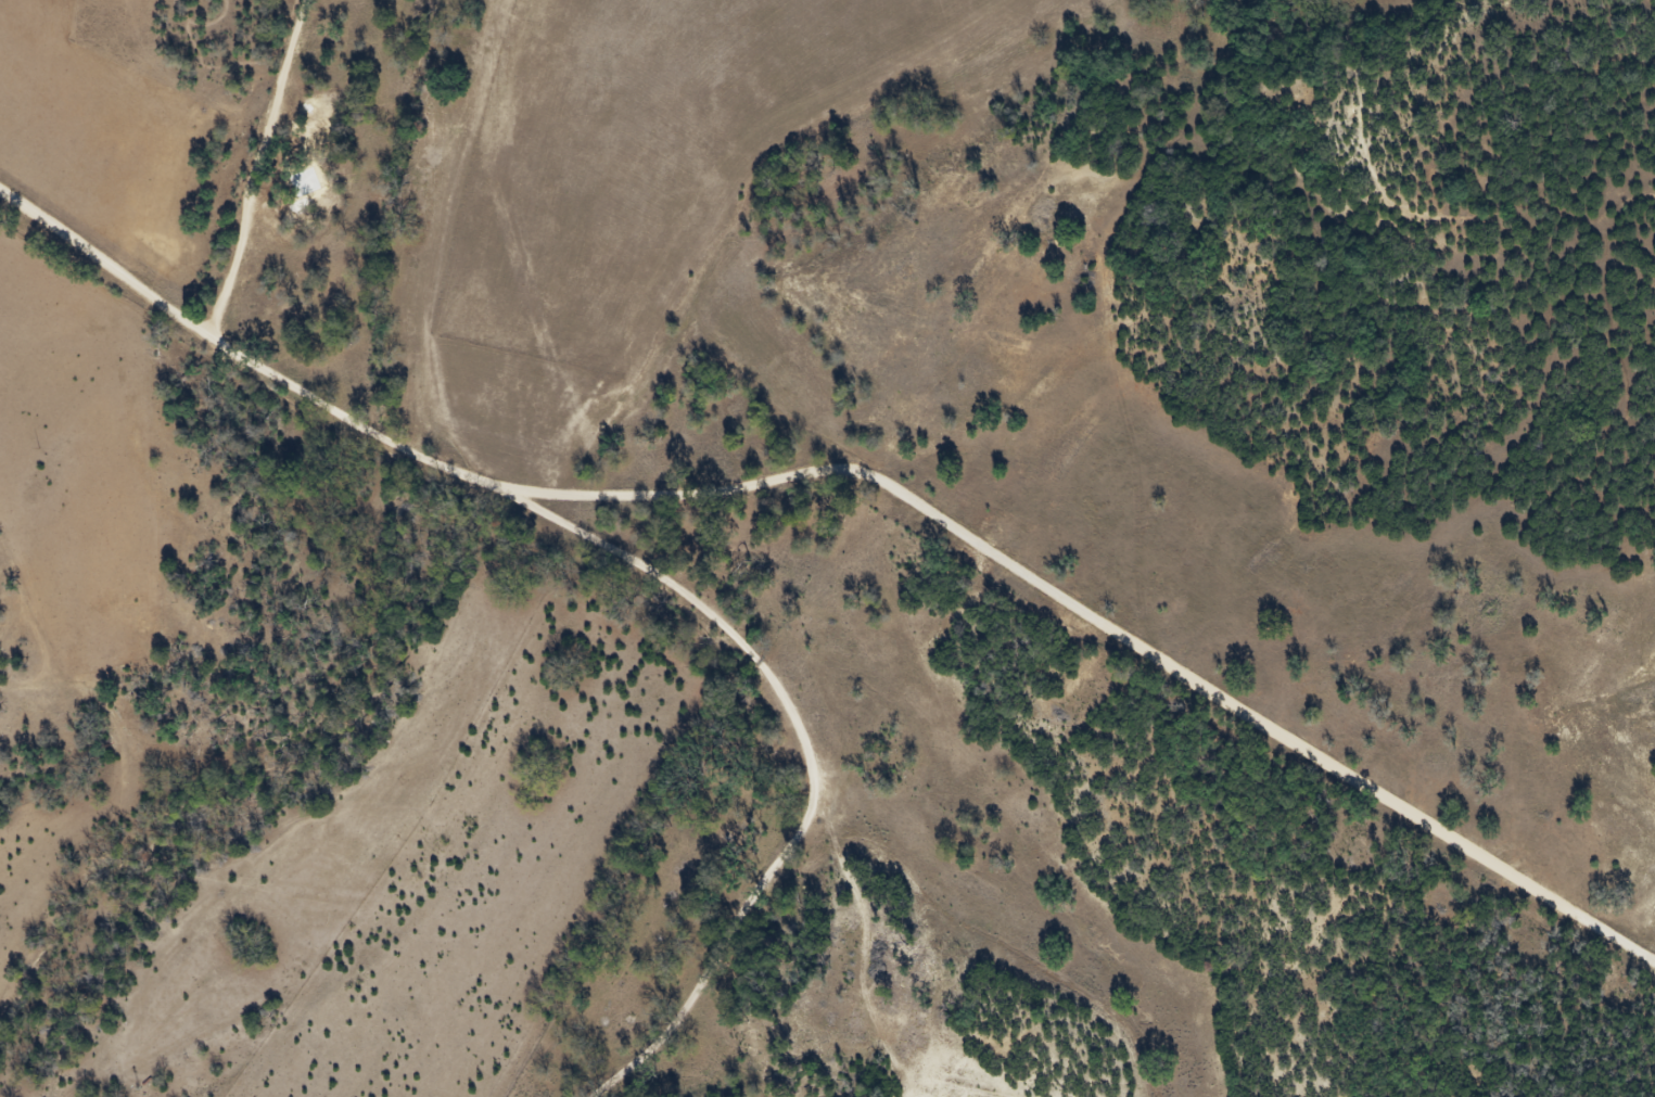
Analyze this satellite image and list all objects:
road: (256, 166)
road: (105, 271)
road: (232, 454)
road: (966, 537)
road: (812, 763)

